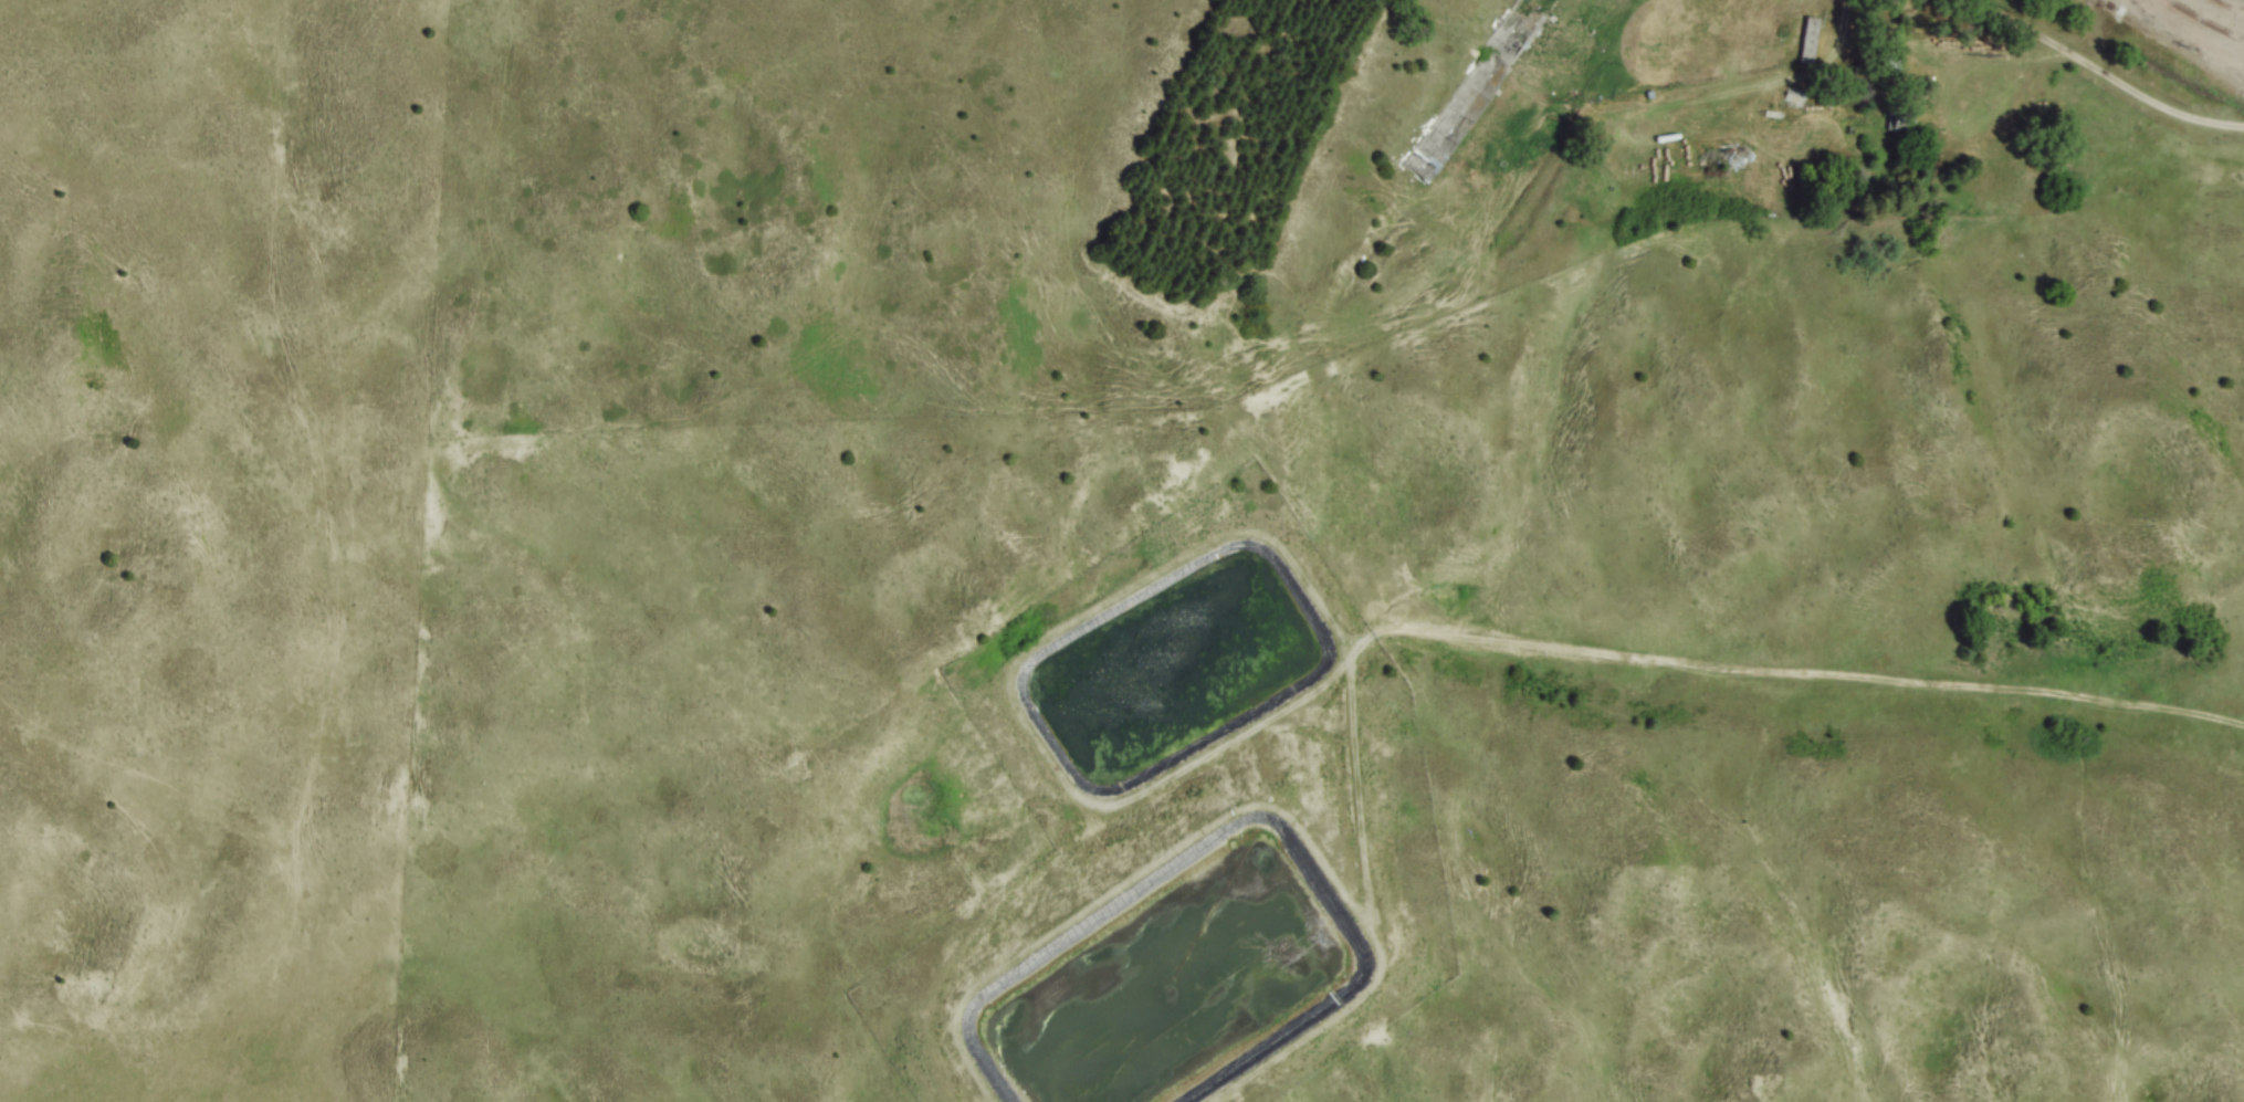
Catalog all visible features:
building: (1811, 42)
road: (2099, 74)
building: (1901, 124)

